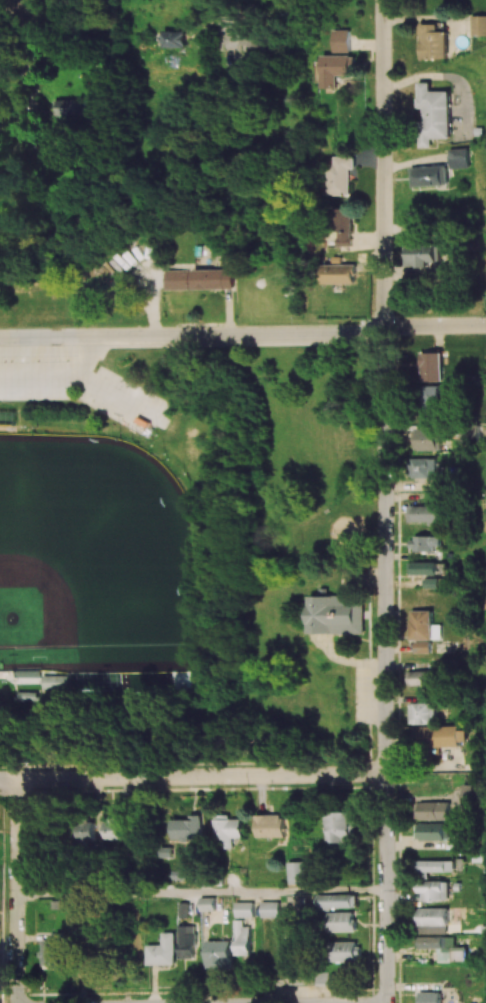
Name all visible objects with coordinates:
road: (7, 9)
building: (478, 24)
road: (224, 35)
building: (173, 38)
building: (252, 38)
building: (342, 40)
building: (433, 40)
road: (24, 65)
building: (337, 68)
building: (61, 107)
building: (433, 114)
building: (460, 157)
road: (384, 164)
building: (341, 175)
building: (429, 175)
building: (344, 226)
building: (423, 255)
building: (339, 273)
building: (212, 278)
building: (176, 279)
road: (243, 333)
building: (433, 366)
parking lot: (46, 370)
building: (434, 398)
parking lot: (126, 401)
building: (429, 438)
building: (424, 467)
building: (425, 514)
building: (424, 542)
park: (187, 554)
park: (93, 557)
building: (423, 567)
building: (430, 582)
building: (337, 614)
building: (424, 625)
building: (423, 646)
road: (385, 666)
building: (421, 677)
building: (54, 681)
road: (370, 682)
building: (423, 712)
building: (440, 735)
road: (193, 776)
building: (473, 794)
building: (433, 810)
building: (269, 825)
building: (341, 826)
building: (187, 828)
building: (109, 829)
building: (226, 830)
building: (433, 830)
building: (82, 831)
building: (463, 840)
building: (436, 866)
building: (297, 872)
building: (434, 889)
road: (17, 891)
road: (202, 892)
building: (337, 901)
building: (208, 903)
building: (270, 908)
building: (245, 909)
building: (433, 920)
building: (341, 921)
building: (242, 938)
building: (187, 941)
building: (445, 947)
building: (163, 950)
building: (345, 950)
building: (55, 951)
building: (289, 951)
building: (219, 953)
building: (430, 997)

